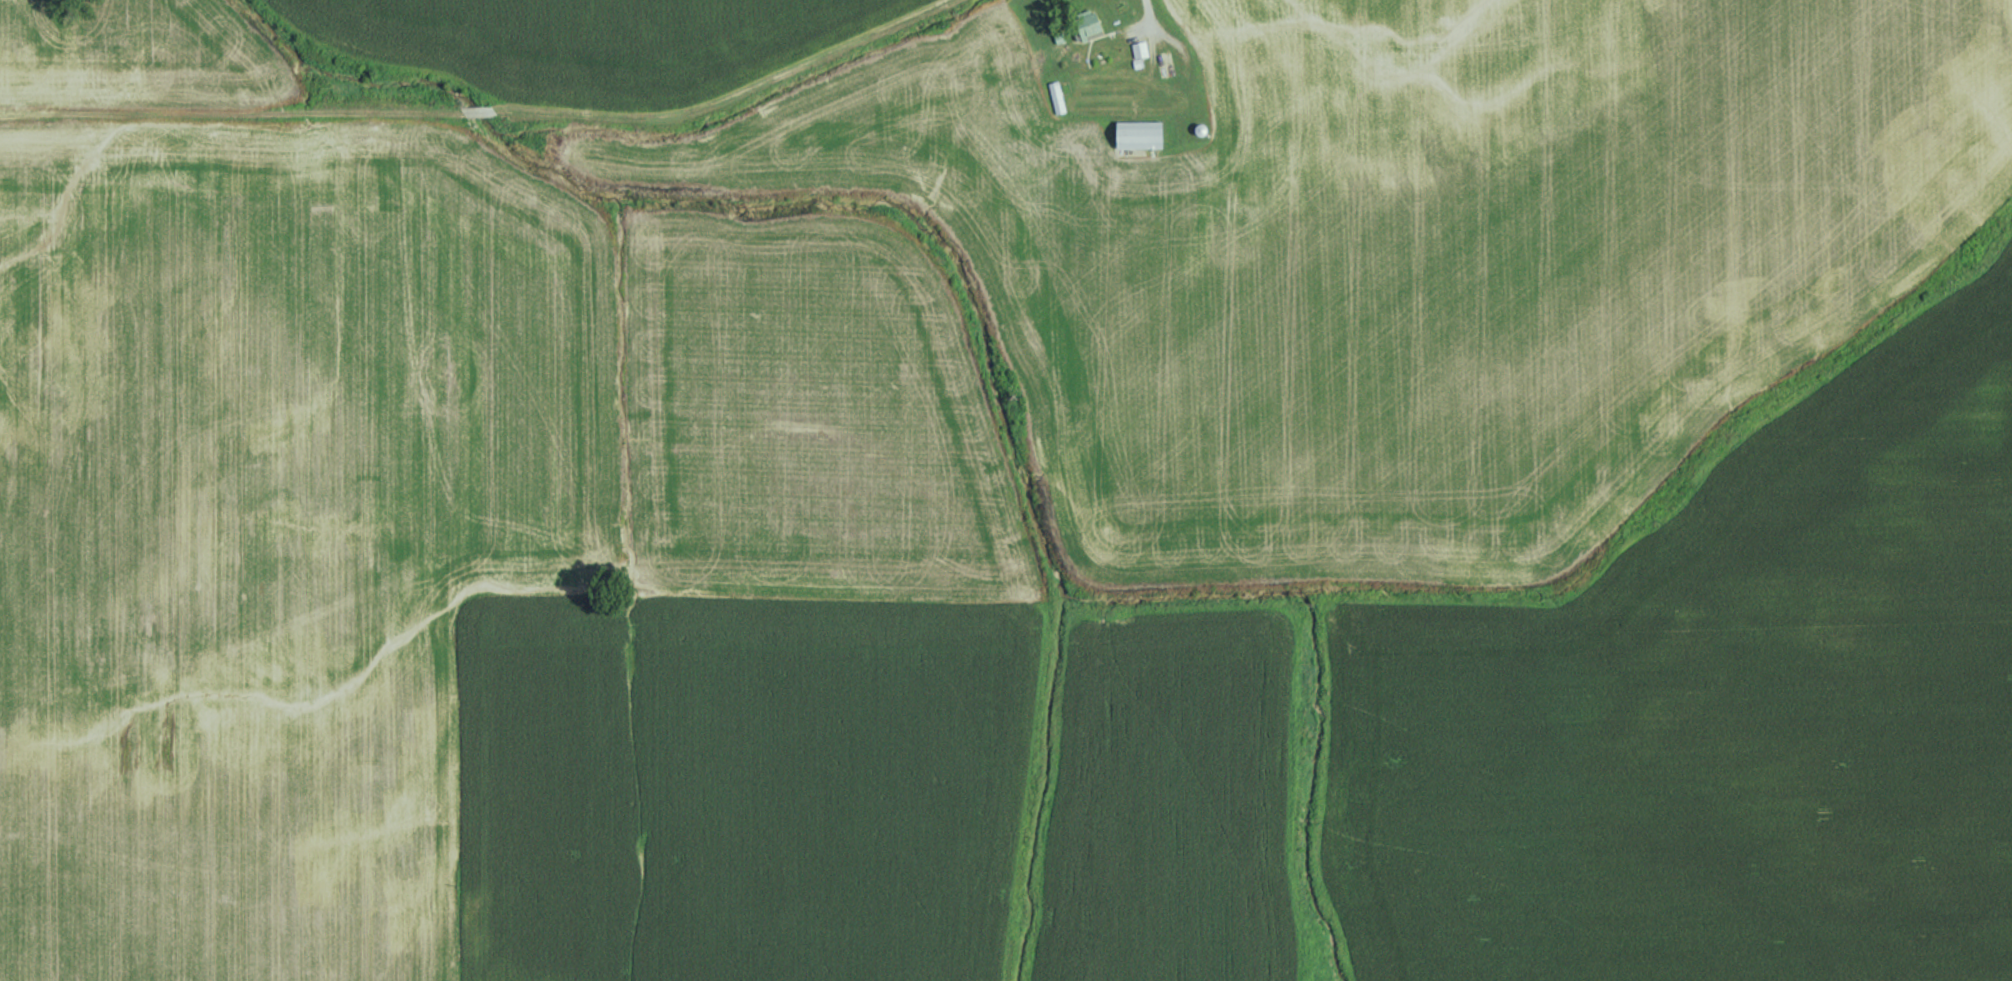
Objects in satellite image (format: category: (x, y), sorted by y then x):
building: (1086, 24)
road: (1160, 32)
road: (1114, 33)
road: (875, 35)
building: (1139, 49)
building: (1056, 97)
building: (1138, 135)

